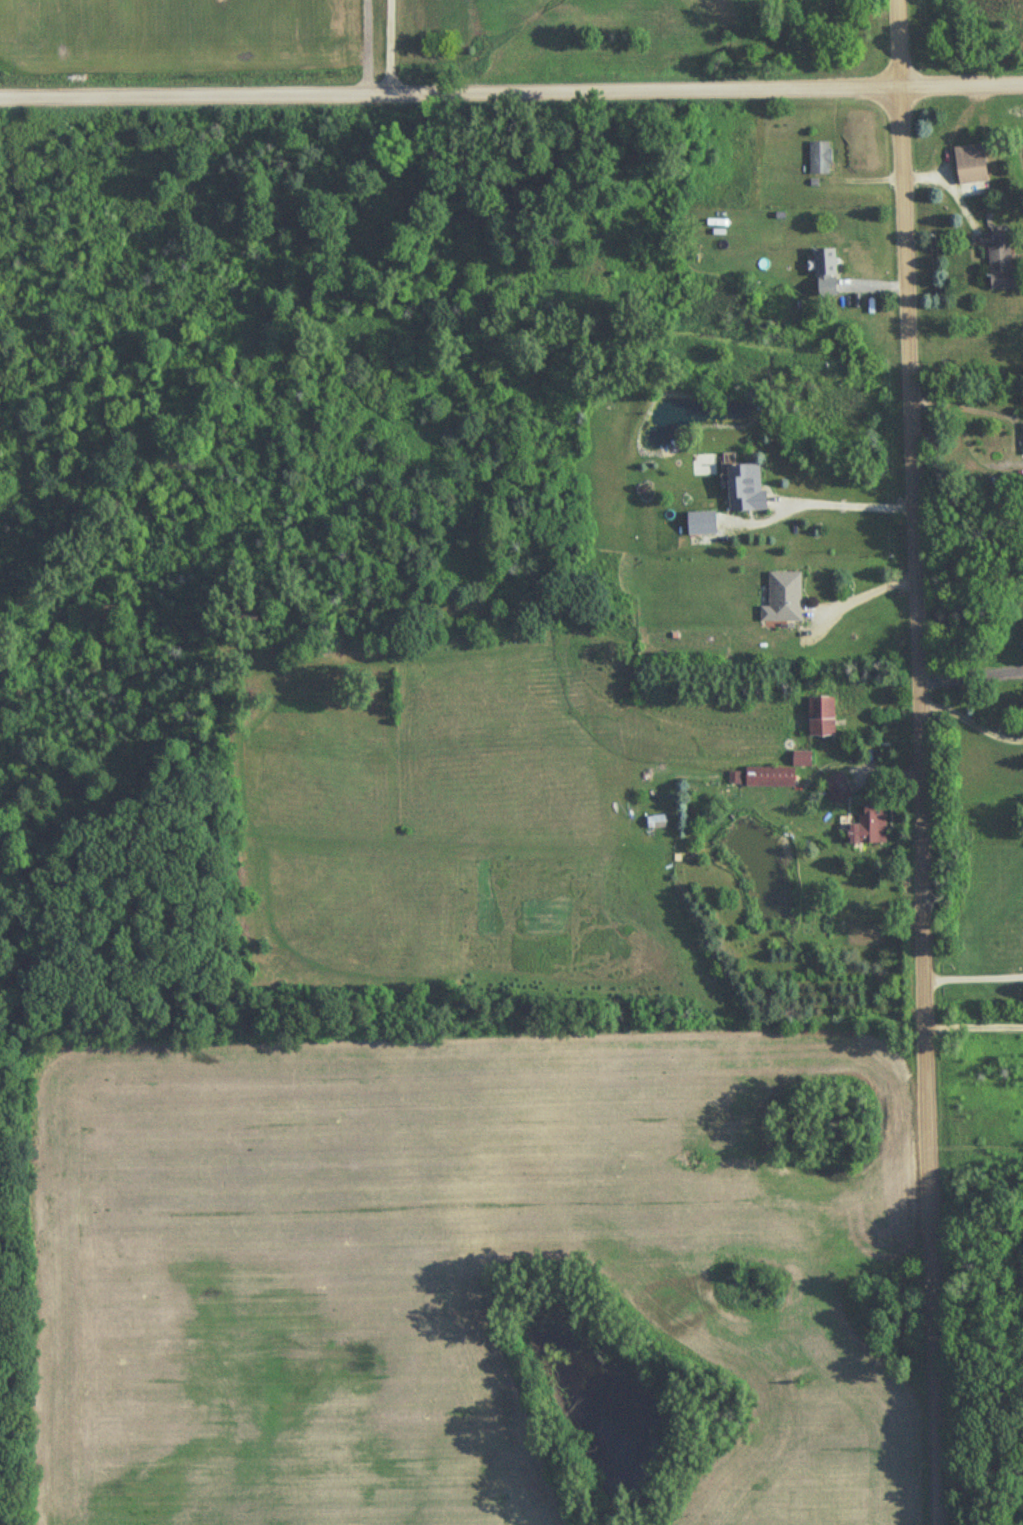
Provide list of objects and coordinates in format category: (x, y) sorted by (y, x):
road: (393, 46)
road: (511, 91)
building: (819, 159)
building: (969, 165)
road: (950, 180)
building: (1000, 266)
building: (824, 273)
road: (960, 405)
building: (1022, 440)
building: (743, 490)
road: (846, 499)
building: (699, 524)
road: (858, 592)
building: (782, 599)
road: (967, 671)
road: (967, 716)
building: (819, 717)
building: (800, 759)
road: (914, 762)
building: (768, 778)
building: (836, 788)
building: (656, 823)
building: (867, 829)
road: (972, 978)
road: (973, 1025)

